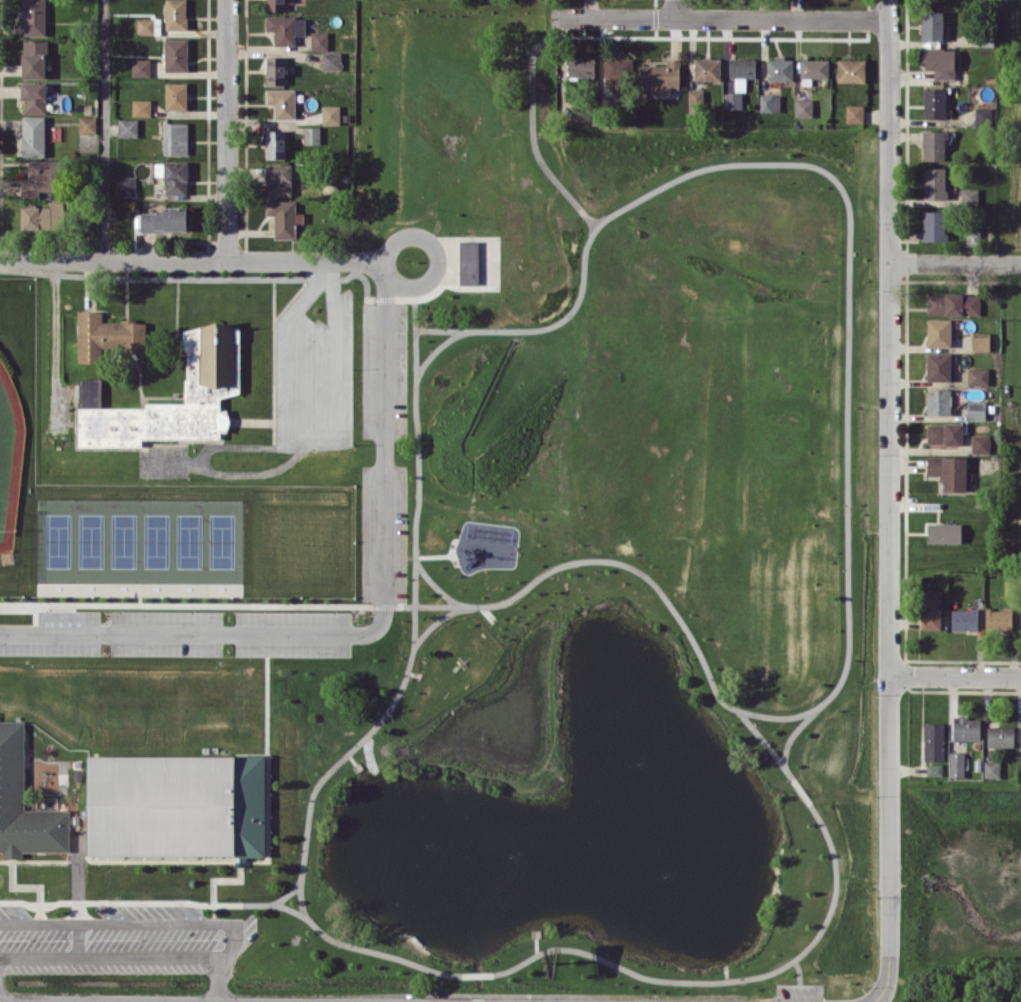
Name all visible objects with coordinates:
building: (275, 5)
road: (673, 8)
building: (175, 14)
building: (34, 17)
road: (718, 17)
building: (145, 25)
building: (932, 25)
building: (285, 28)
building: (319, 40)
building: (175, 54)
building: (34, 59)
building: (331, 60)
building: (939, 62)
building: (581, 66)
building: (140, 67)
building: (779, 68)
building: (814, 68)
building: (707, 69)
building: (275, 70)
building: (617, 70)
building: (851, 70)
building: (741, 71)
building: (660, 76)
building: (176, 95)
building: (34, 97)
building: (695, 100)
building: (732, 100)
building: (282, 102)
building: (769, 102)
building: (934, 103)
building: (141, 107)
building: (803, 107)
building: (582, 112)
building: (854, 113)
building: (330, 114)
building: (87, 124)
building: (127, 127)
road: (103, 129)
road: (226, 129)
building: (33, 135)
building: (312, 135)
building: (175, 138)
building: (275, 144)
building: (934, 145)
building: (173, 176)
building: (40, 177)
building: (279, 179)
building: (934, 183)
building: (125, 186)
building: (969, 195)
building: (41, 216)
building: (284, 217)
building: (165, 220)
building: (934, 225)
building: (972, 237)
road: (436, 253)
road: (197, 258)
road: (955, 260)
building: (468, 262)
road: (324, 270)
road: (90, 280)
building: (953, 303)
building: (938, 332)
building: (107, 336)
building: (980, 341)
building: (938, 367)
building: (210, 372)
building: (978, 376)
building: (90, 391)
building: (938, 401)
building: (976, 410)
building: (944, 433)
park: (18, 435)
road: (307, 439)
building: (980, 444)
park: (10, 459)
building: (948, 471)
road: (889, 499)
building: (944, 532)
park: (140, 542)
park: (526, 600)
building: (930, 609)
building: (1020, 618)
building: (964, 619)
building: (999, 619)
road: (366, 630)
road: (955, 674)
building: (966, 728)
building: (1020, 733)
building: (1000, 736)
building: (933, 741)
building: (956, 764)
building: (934, 769)
building: (991, 769)
building: (25, 801)
building: (178, 805)
parking lot: (118, 937)
road: (231, 938)
road: (217, 978)
road: (876, 999)
road: (109, 1001)

